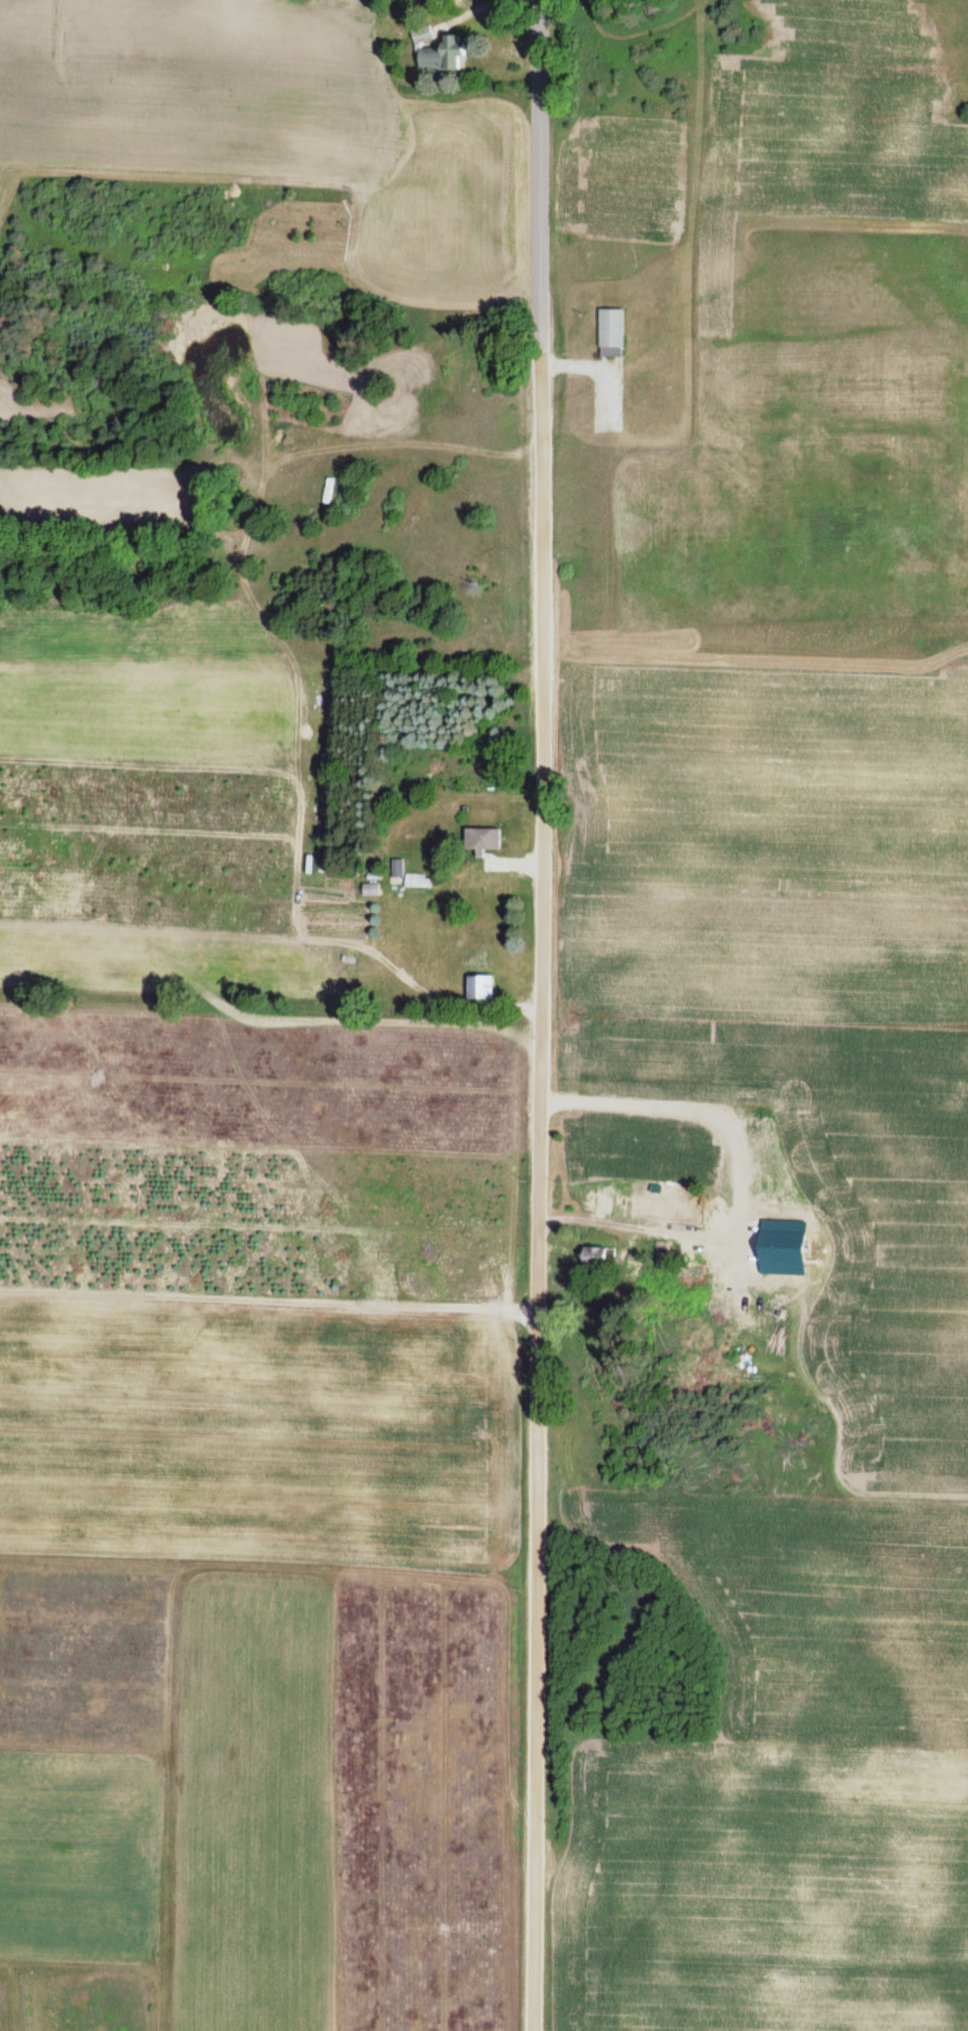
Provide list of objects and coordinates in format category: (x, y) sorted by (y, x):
building: (444, 54)
building: (611, 333)
building: (479, 841)
building: (395, 867)
building: (416, 880)
building: (368, 889)
building: (478, 986)
road: (538, 1015)
building: (598, 1257)

